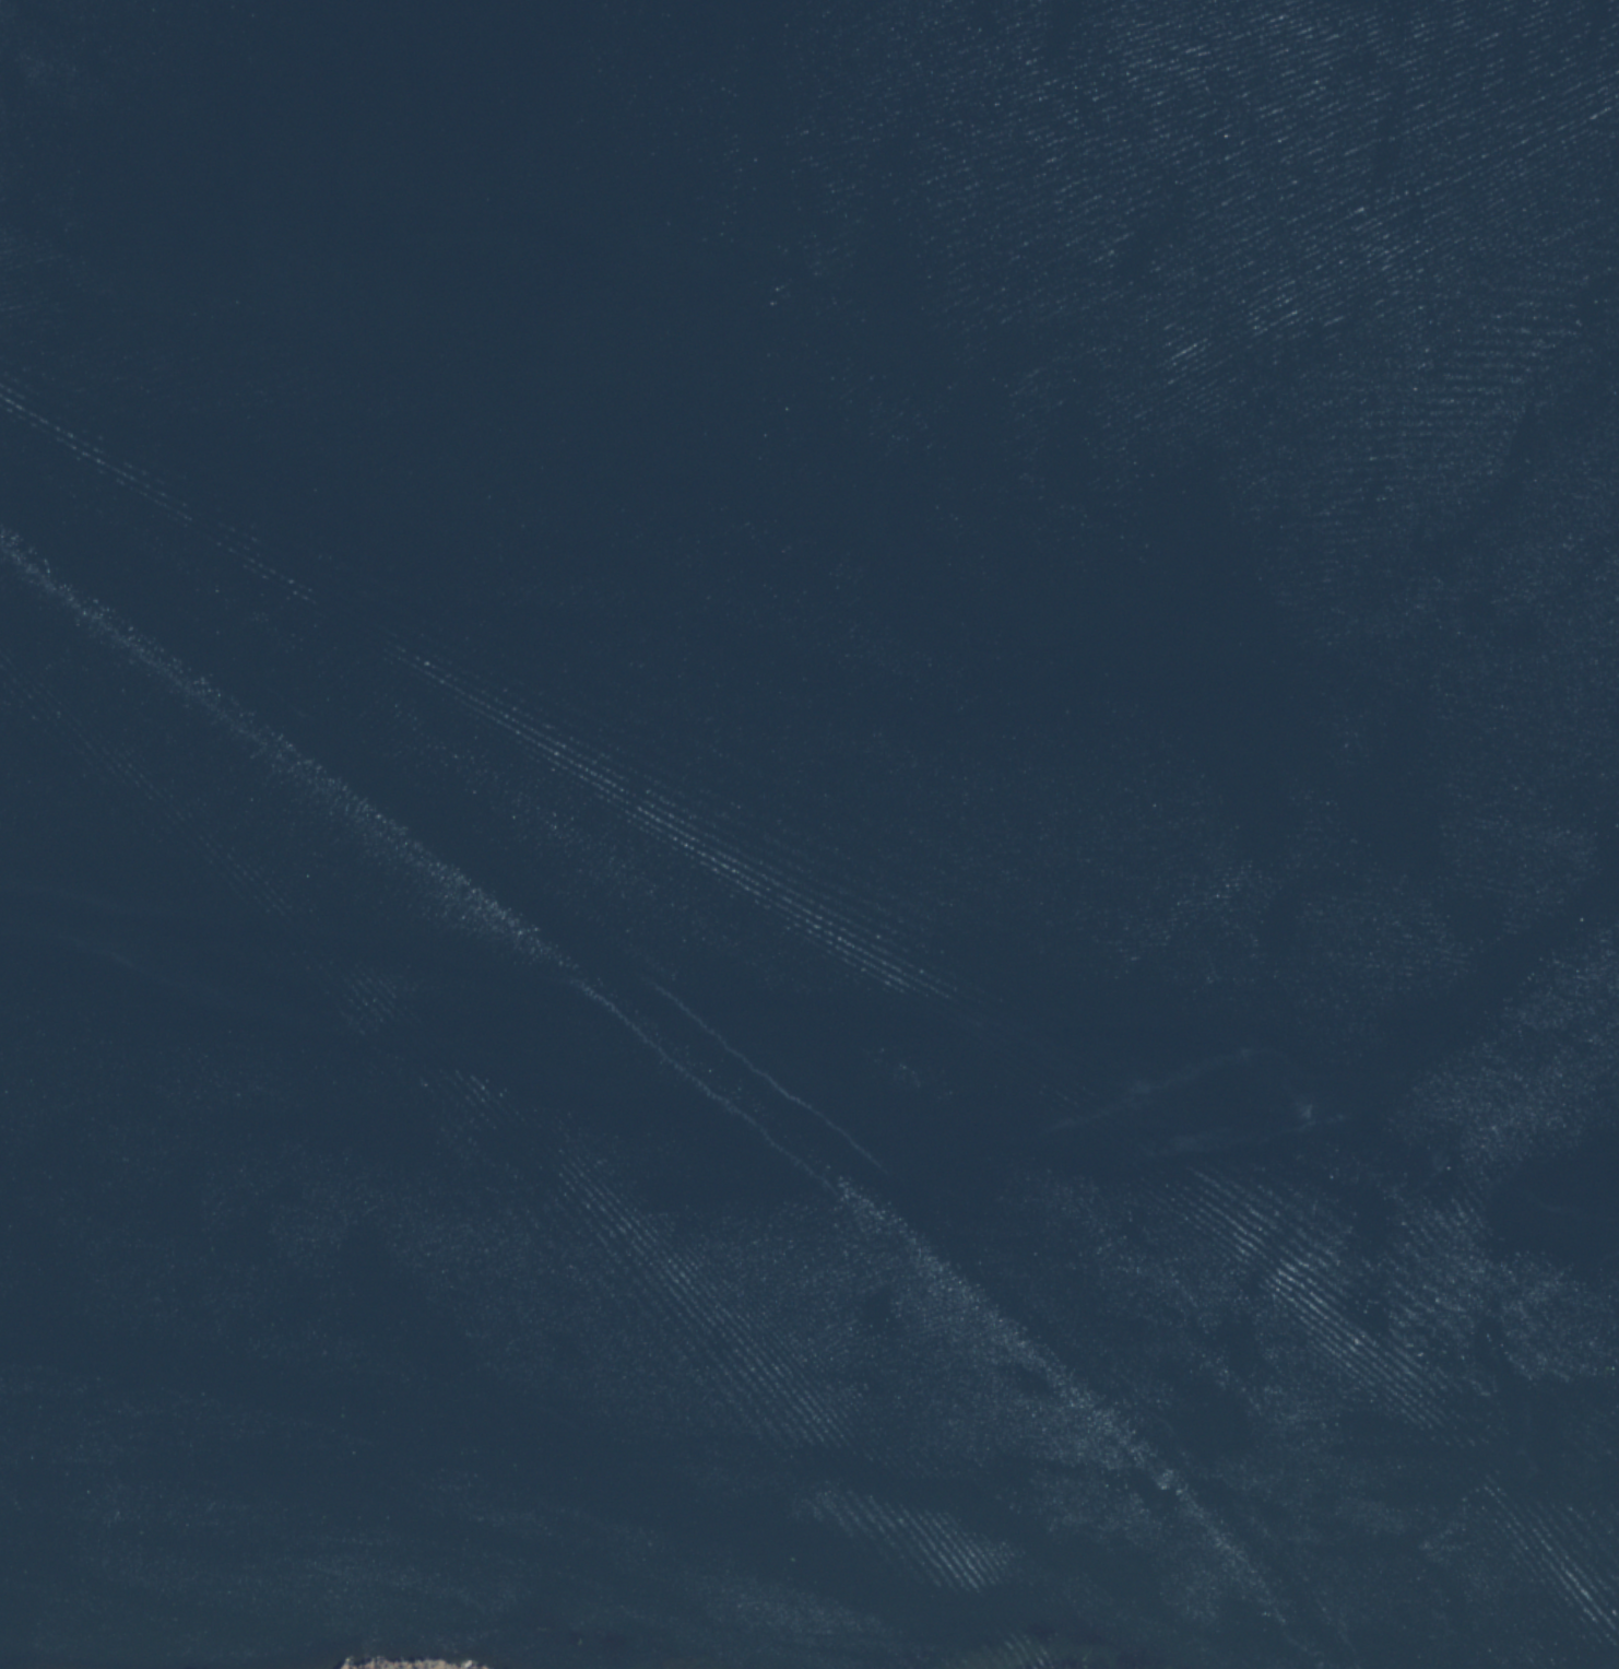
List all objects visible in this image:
river: (168, 5)
park: (1466, 1621)
park: (404, 1627)

